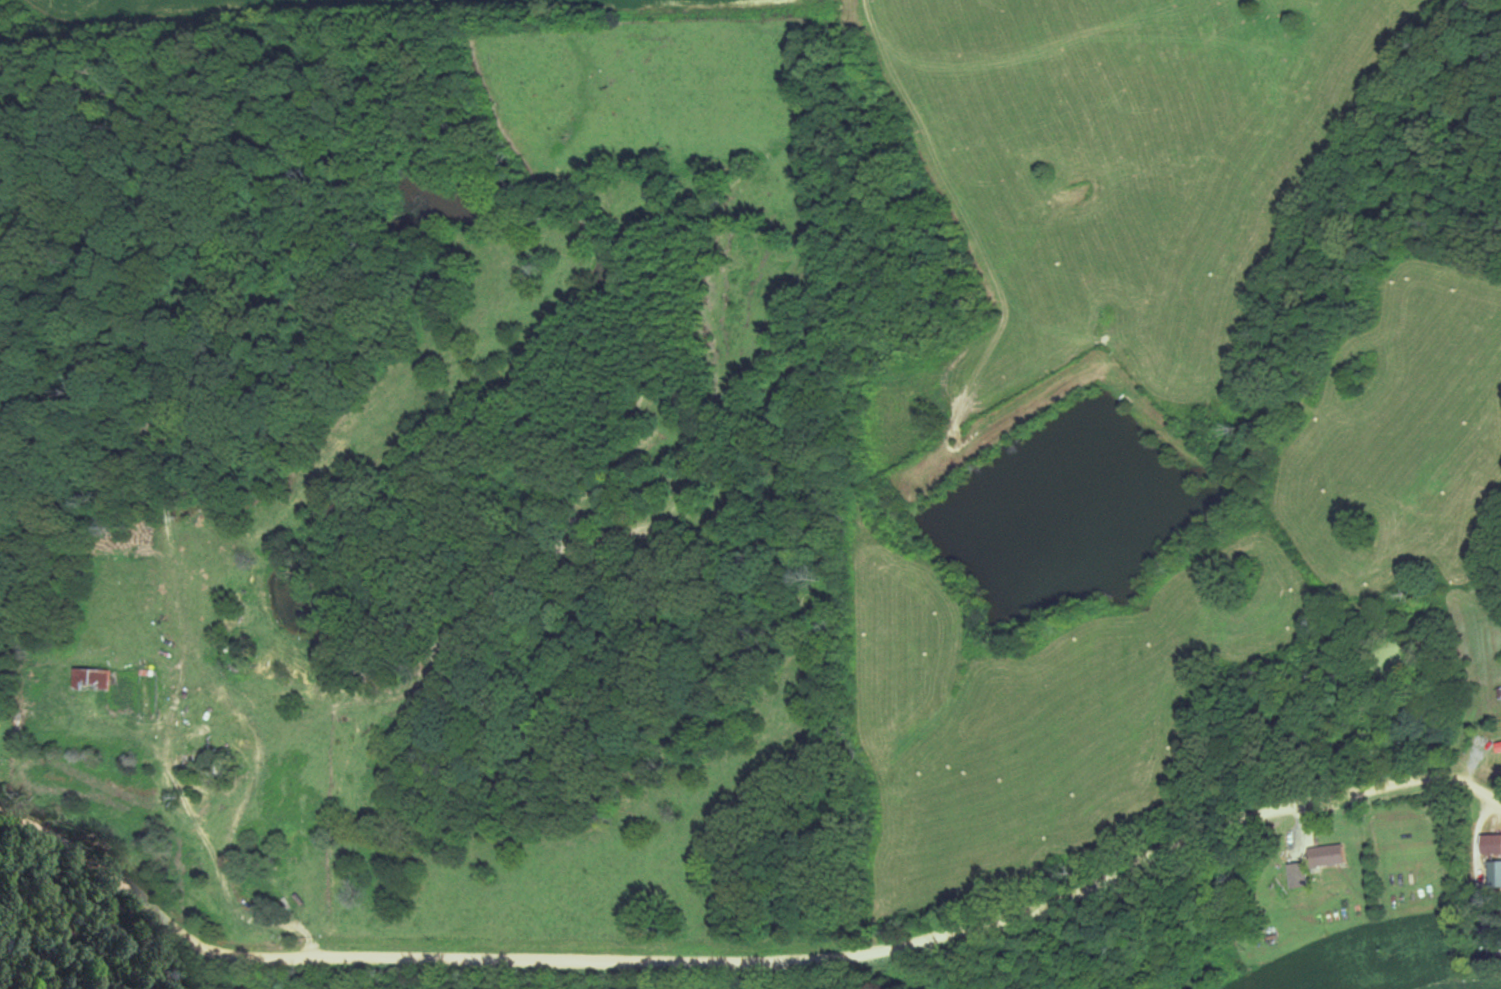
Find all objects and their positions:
building: (89, 678)
building: (1499, 746)
building: (1491, 844)
building: (1328, 855)
road: (746, 963)

